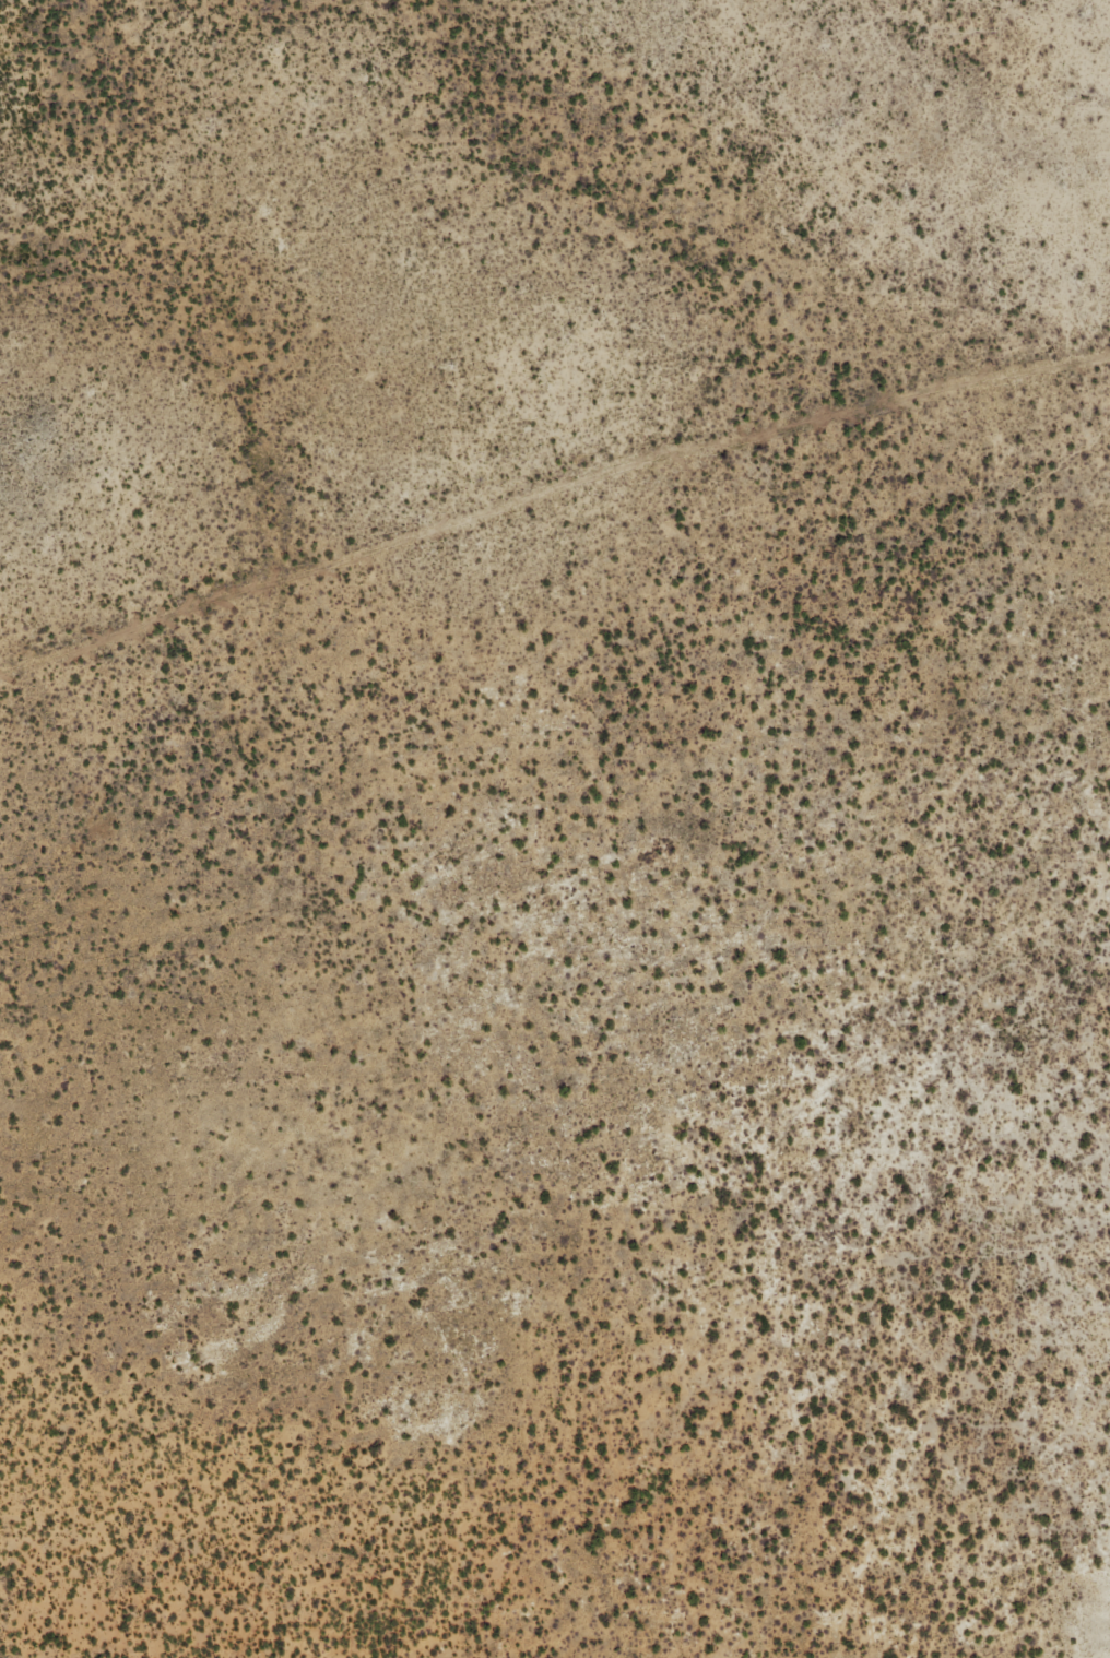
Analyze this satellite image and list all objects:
road: (886, 221)
road: (776, 1186)

